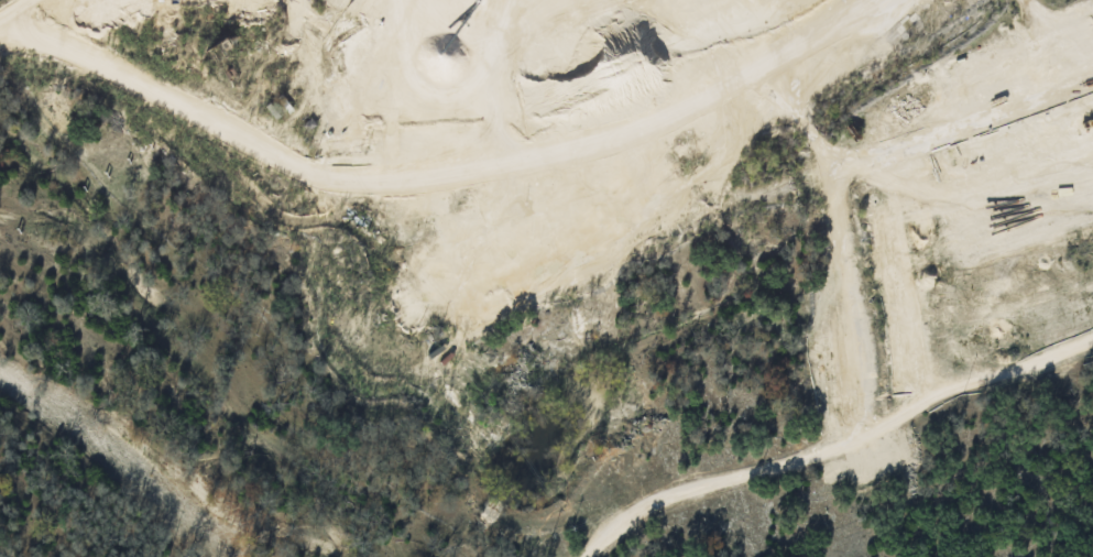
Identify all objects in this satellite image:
road: (446, 166)

